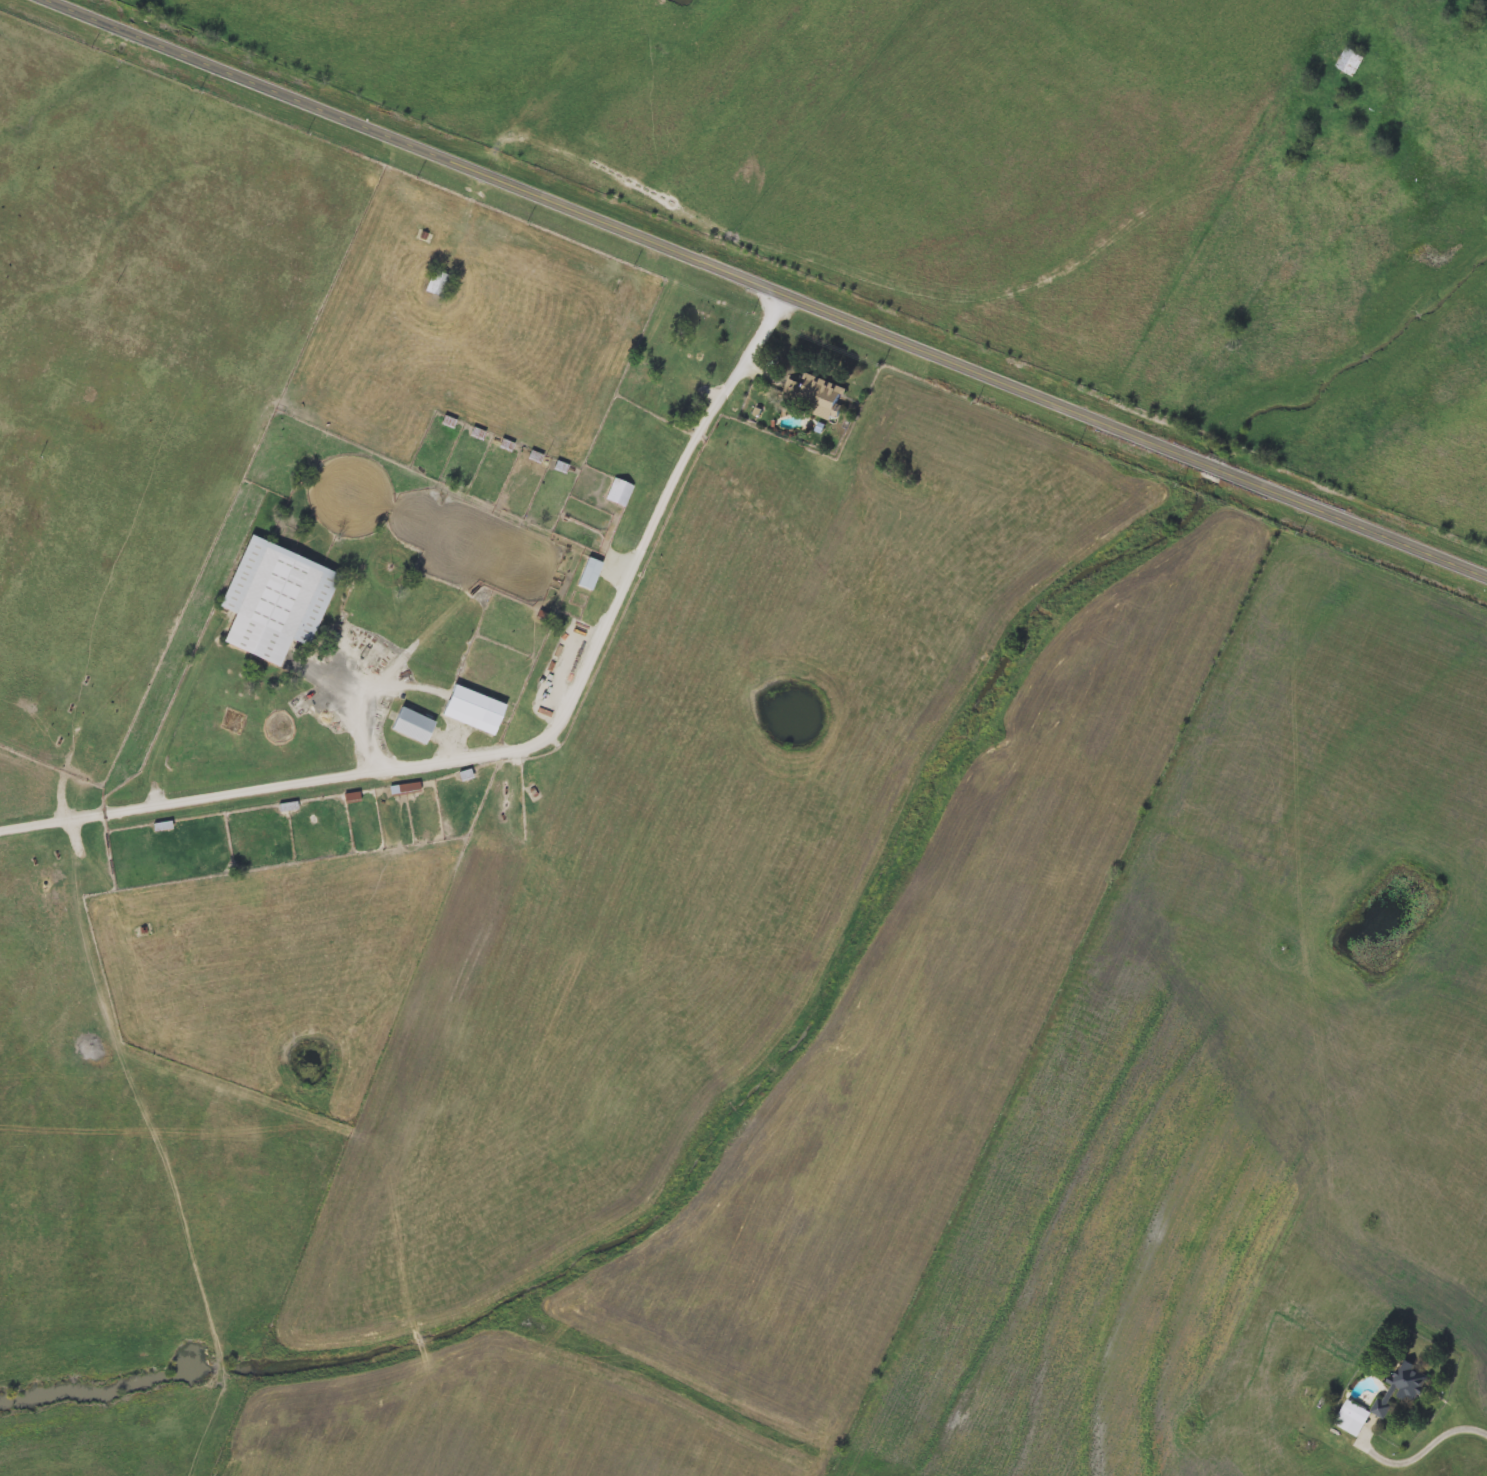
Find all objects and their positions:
building: (1348, 61)
building: (436, 282)
road: (775, 286)
building: (813, 392)
building: (616, 490)
road: (510, 511)
building: (588, 572)
building: (271, 599)
road: (410, 647)
road: (353, 695)
building: (472, 708)
road: (170, 724)
building: (411, 724)
road: (524, 743)
building: (287, 805)
road: (72, 825)
building: (161, 826)
building: (1399, 1387)
building: (1370, 1411)
building: (1350, 1417)
road: (1428, 1439)

